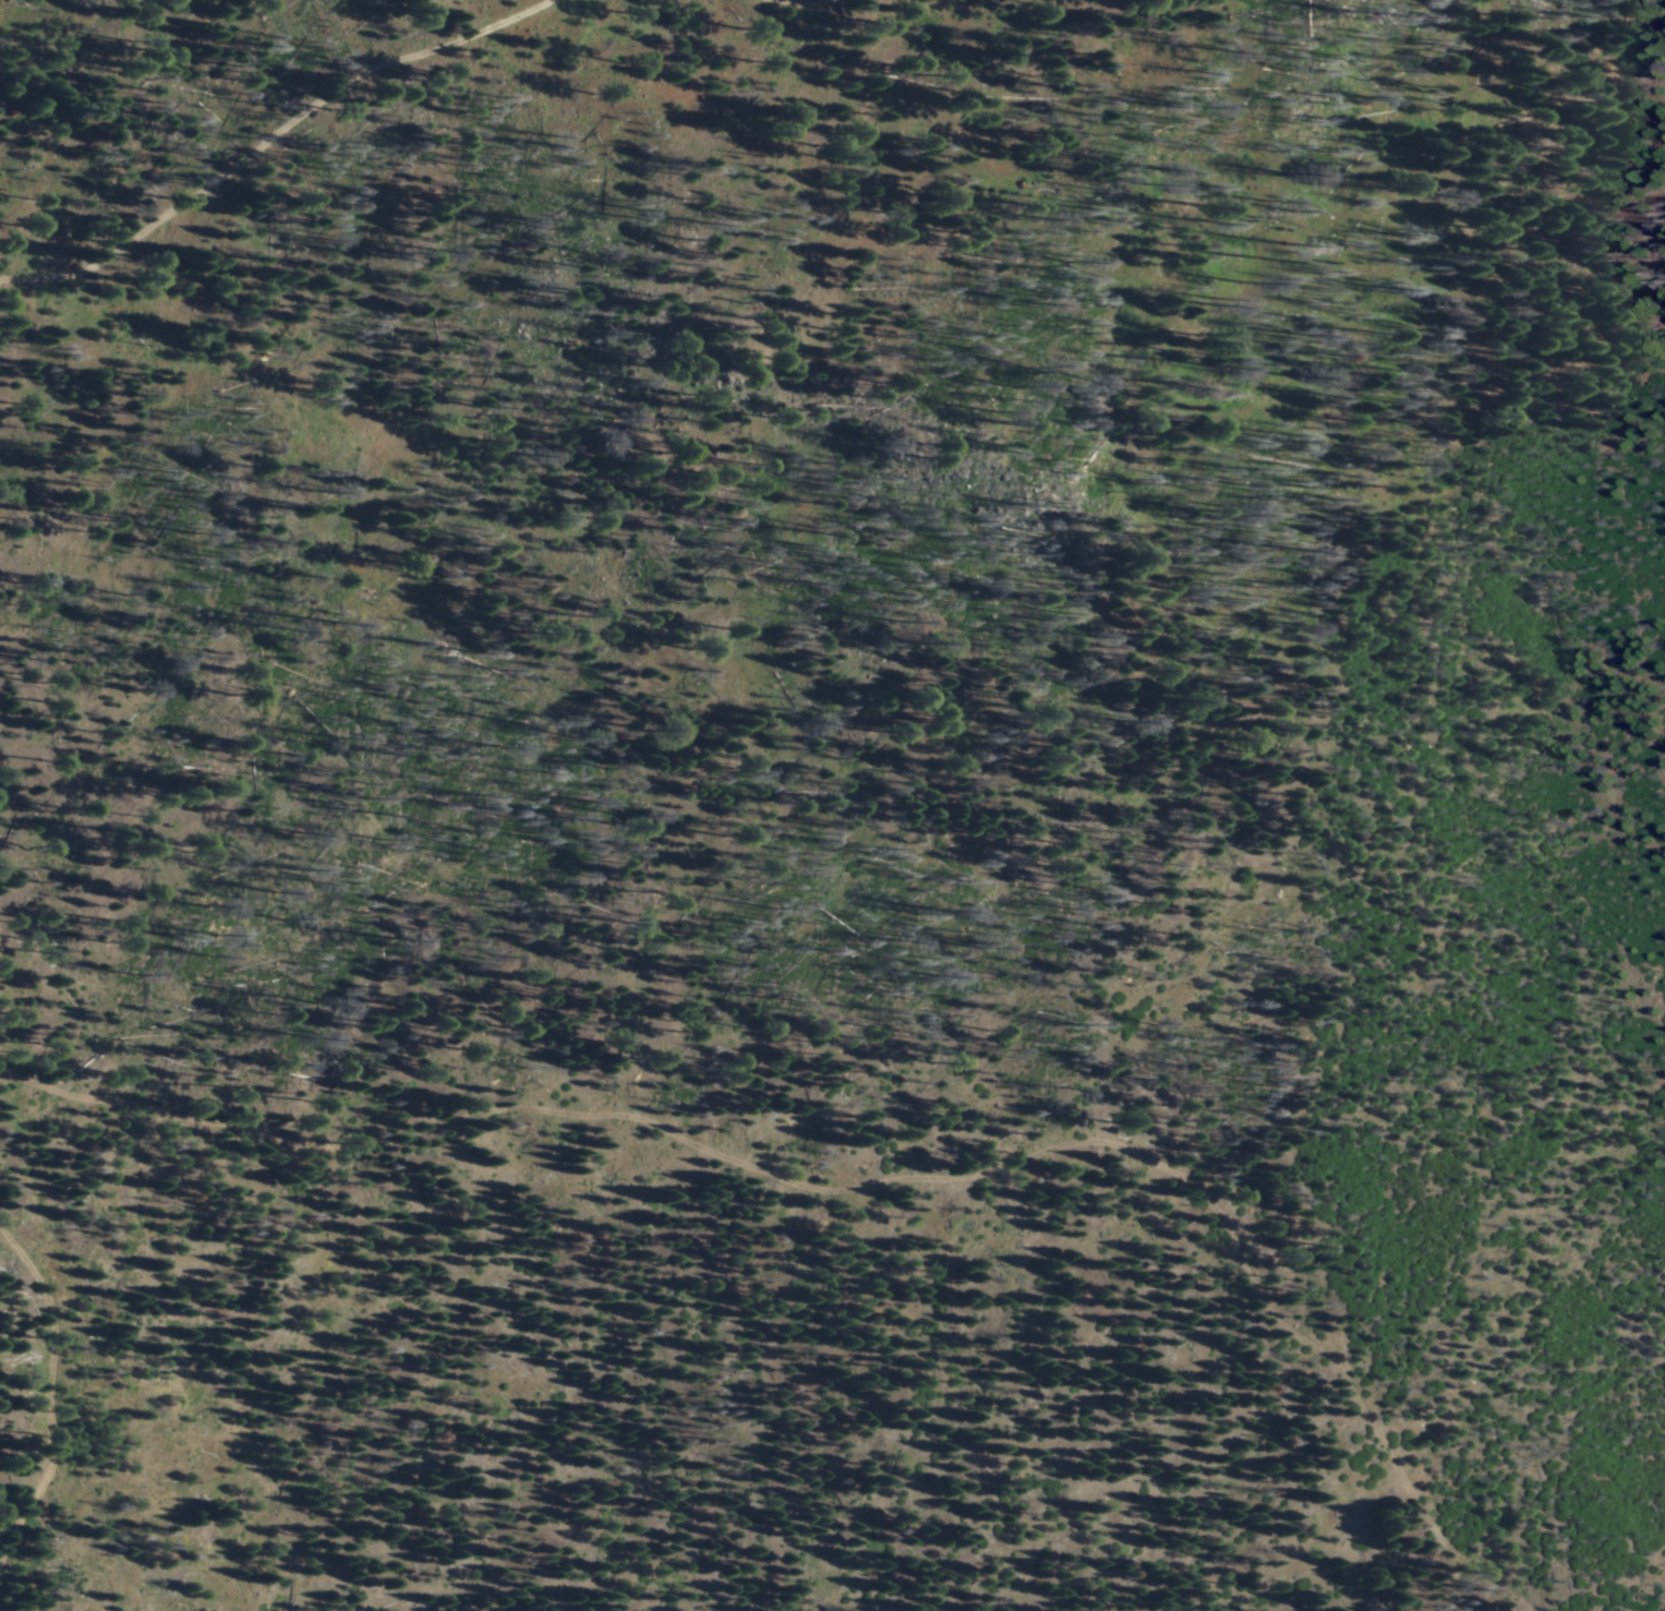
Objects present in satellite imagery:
road: (261, 130)
road: (50, 1036)
road: (909, 1083)
road: (53, 1399)

